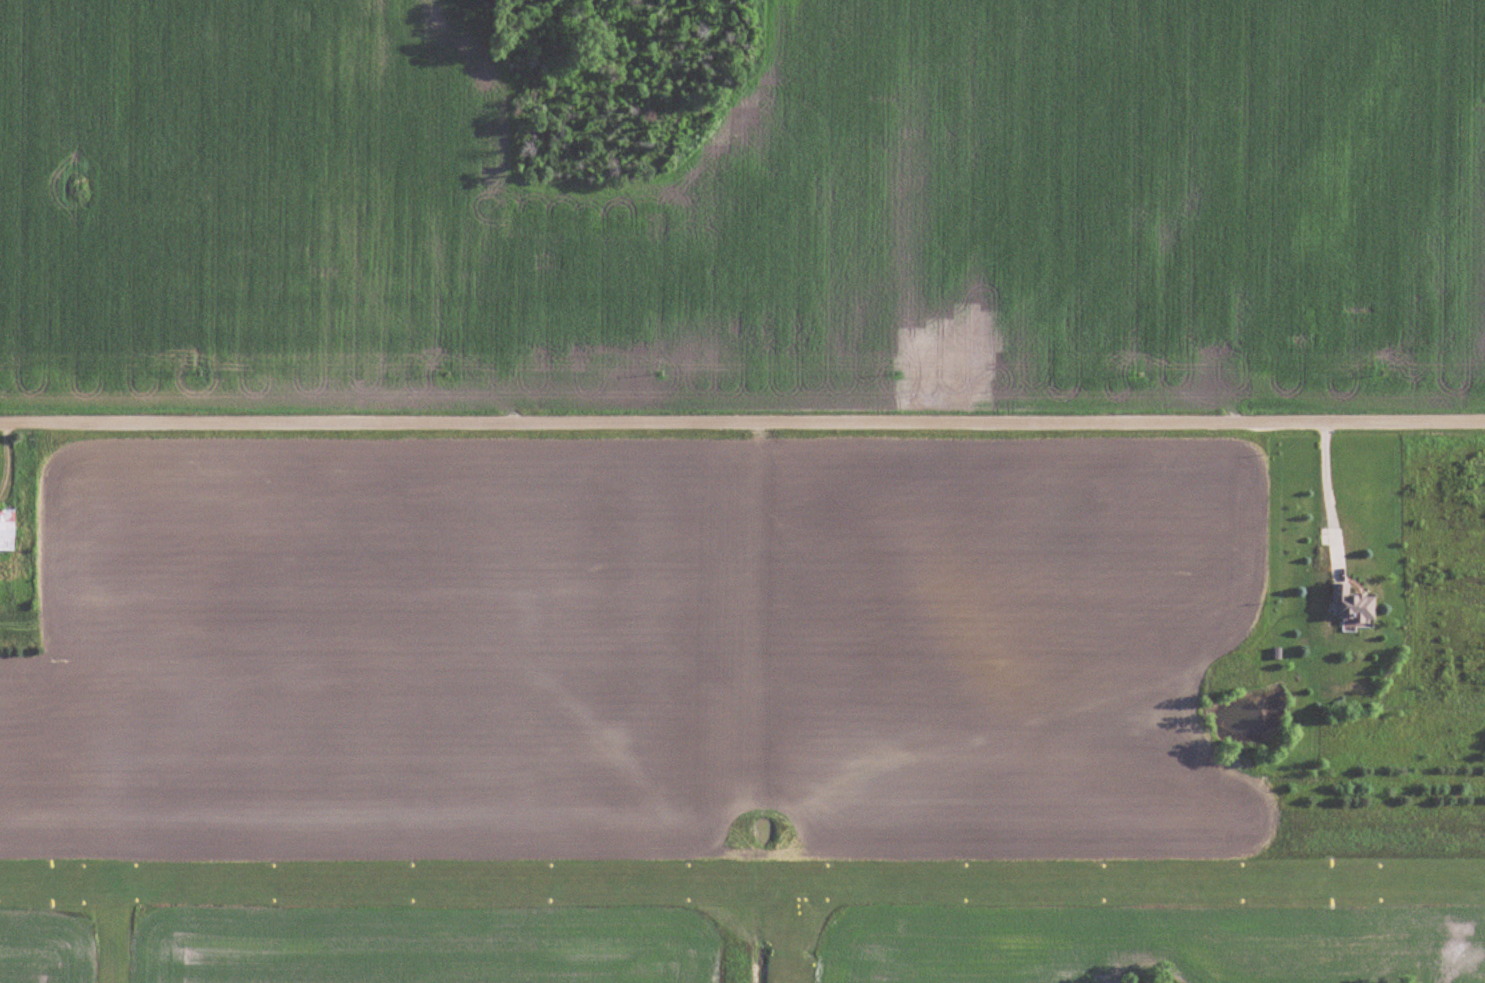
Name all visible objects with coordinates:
road: (742, 426)
road: (9, 461)
road: (1328, 497)
building: (7, 530)
building: (1354, 604)
airport runway: (742, 881)
airport taxiway: (784, 932)
airport taxiway: (113, 933)

